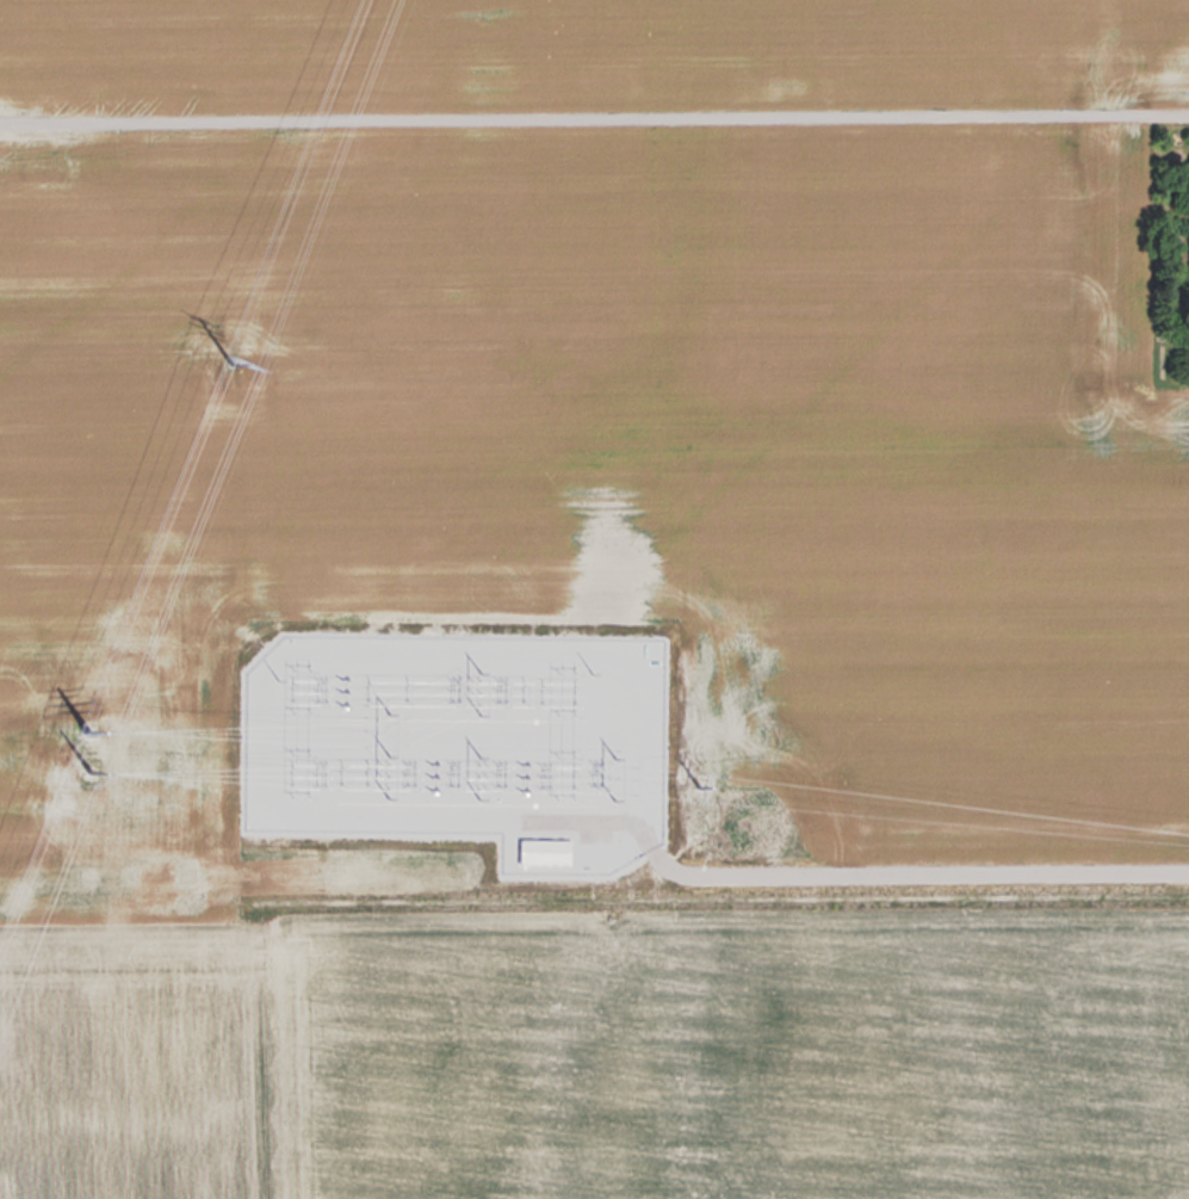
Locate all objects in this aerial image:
road: (594, 112)
power tower: (236, 356)
power tower: (93, 722)
power substation: (465, 736)
power tower: (100, 777)
power tower: (702, 778)
building: (546, 849)
road: (914, 869)

